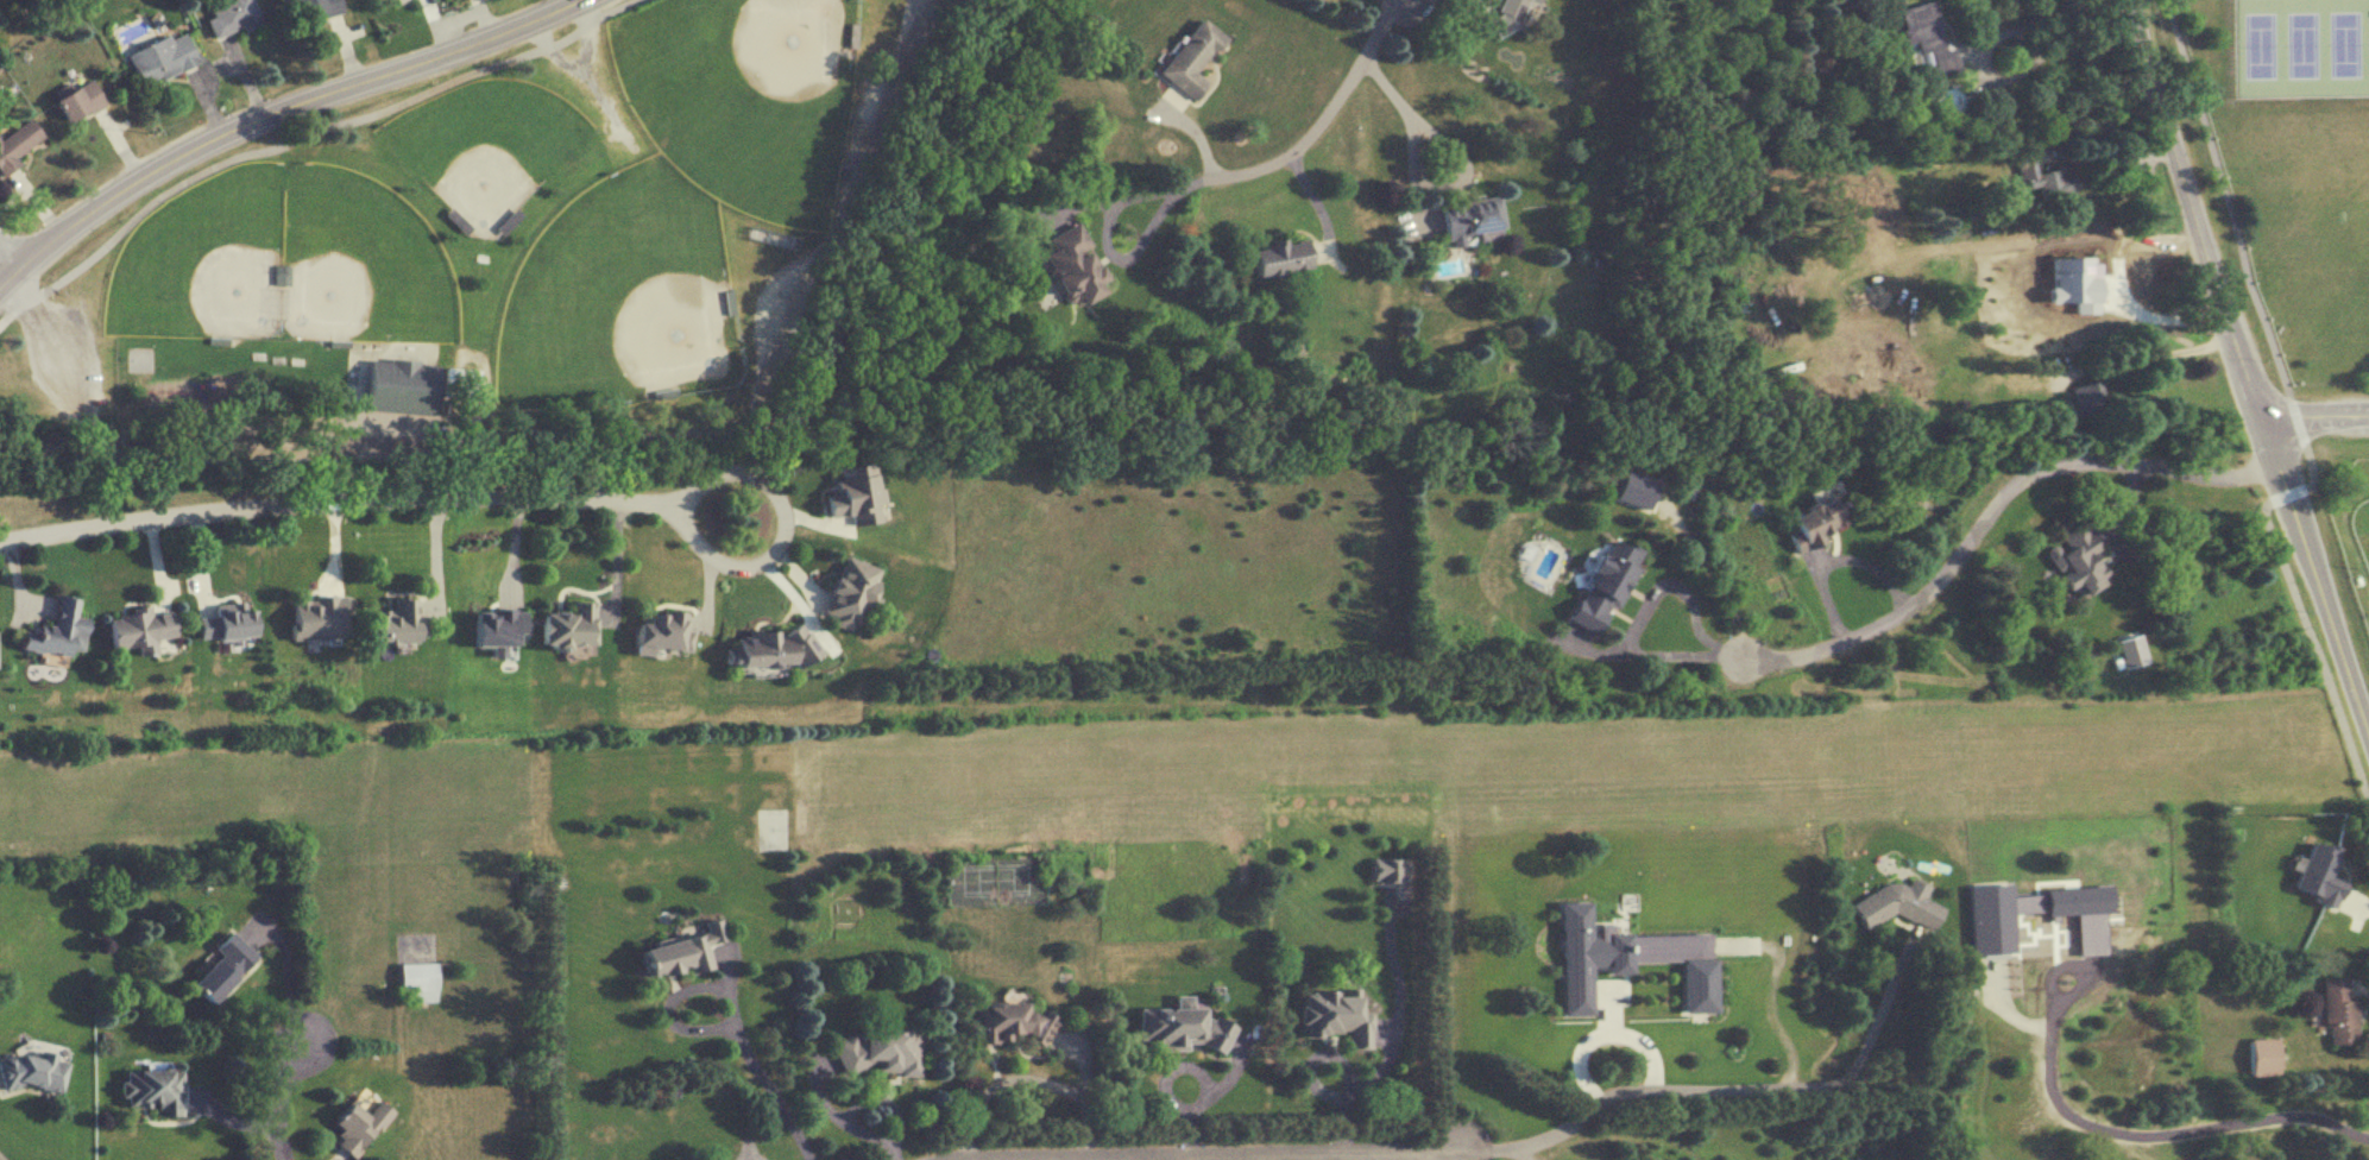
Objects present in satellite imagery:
building: (1531, 0)
building: (315, 8)
building: (229, 15)
building: (1505, 15)
road: (2027, 21)
building: (1927, 34)
park: (2344, 42)
park: (2295, 43)
park: (2251, 44)
building: (160, 57)
building: (1190, 57)
road: (580, 62)
park: (743, 93)
building: (1945, 100)
building: (76, 101)
road: (603, 103)
road: (1401, 107)
road: (272, 115)
road: (1313, 124)
road: (300, 137)
park: (493, 137)
road: (2110, 143)
building: (15, 144)
park: (2286, 170)
building: (2047, 178)
road: (2231, 209)
building: (1968, 212)
building: (1468, 218)
road: (1104, 246)
park: (511, 251)
park: (203, 252)
park: (357, 252)
road: (8, 256)
building: (1278, 257)
building: (1071, 265)
building: (2052, 267)
building: (279, 275)
road: (2118, 282)
park: (619, 284)
road: (2161, 353)
road: (2244, 364)
building: (460, 380)
building: (397, 384)
building: (2084, 397)
road: (2316, 417)
road: (581, 435)
road: (2338, 449)
road: (336, 500)
road: (1995, 509)
building: (1812, 522)
road: (2131, 525)
road: (783, 529)
road: (1829, 554)
building: (2075, 562)
building: (1602, 581)
building: (848, 591)
road: (2294, 598)
road: (1637, 610)
building: (310, 618)
building: (392, 624)
building: (566, 624)
building: (138, 629)
building: (56, 630)
building: (660, 631)
building: (768, 648)
airport runway: (1160, 756)
airport: (1065, 763)
building: (1384, 870)
building: (1897, 903)
building: (1991, 919)
building: (679, 951)
building: (221, 967)
building: (417, 979)
road: (669, 994)
building: (2337, 1011)
building: (1332, 1016)
building: (1004, 1022)
building: (1178, 1027)
road: (1391, 1029)
building: (875, 1051)
building: (2261, 1055)
building: (29, 1072)
road: (1028, 1074)
road: (1718, 1087)
building: (151, 1090)
road: (768, 1092)
road: (282, 1098)
building: (357, 1126)
road: (2142, 1135)
road: (1523, 1153)
road: (1274, 1155)
road: (1418, 1156)
road: (1, 1158)
road: (1318, 1158)

